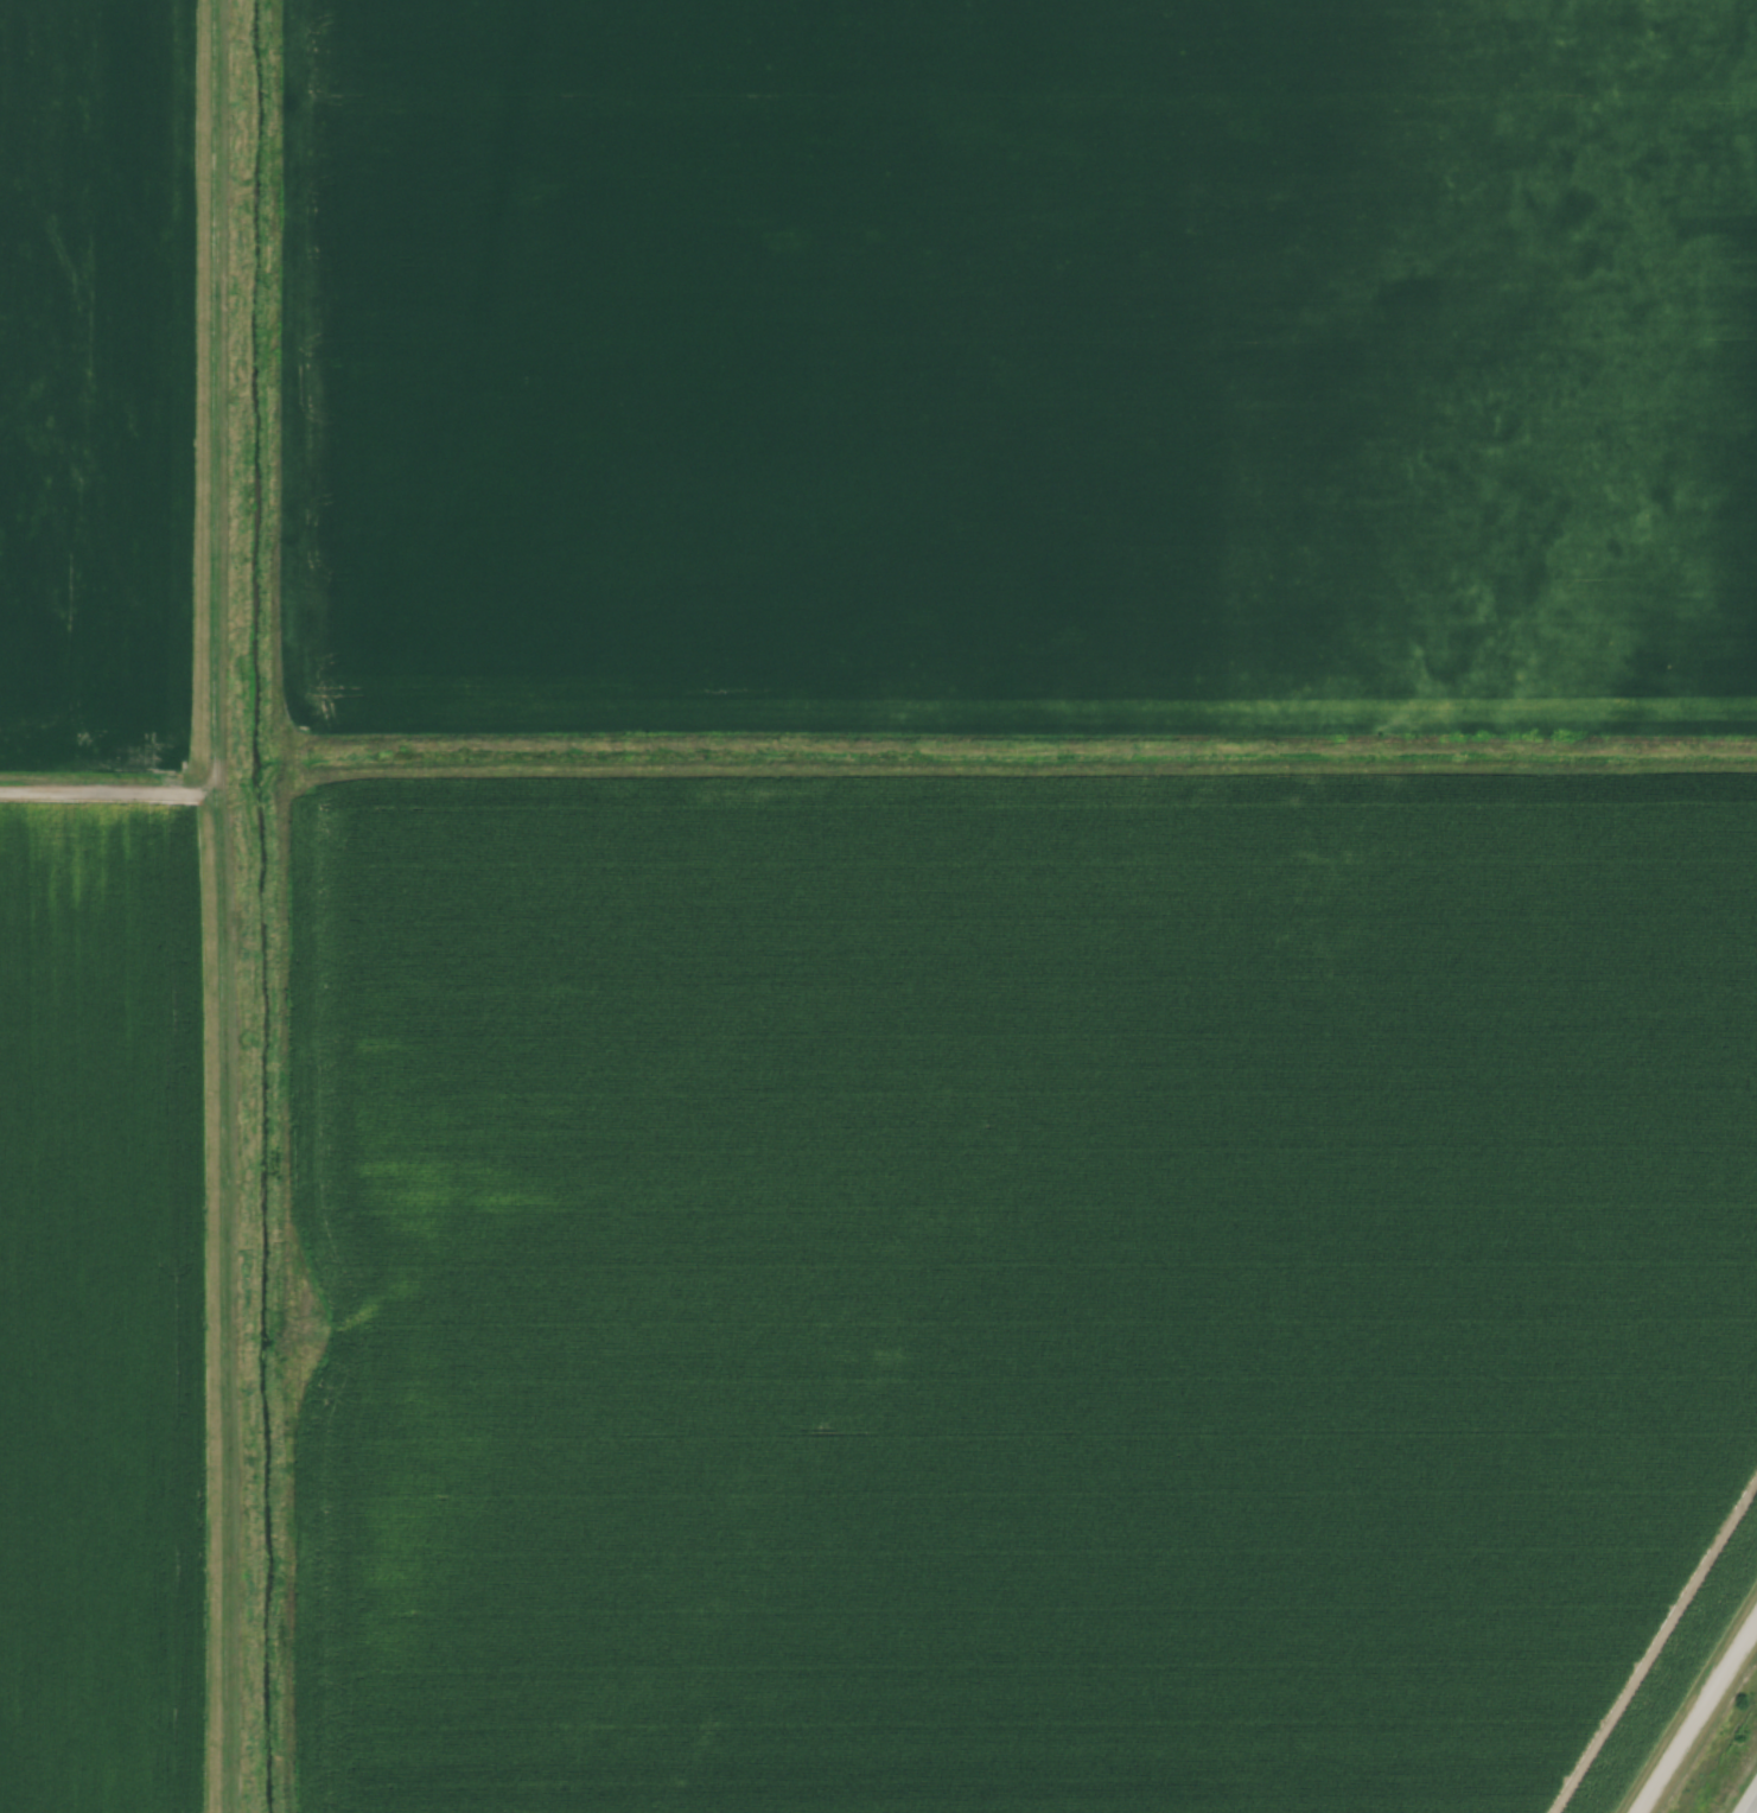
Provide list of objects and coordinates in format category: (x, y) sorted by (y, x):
road: (1698, 1717)

